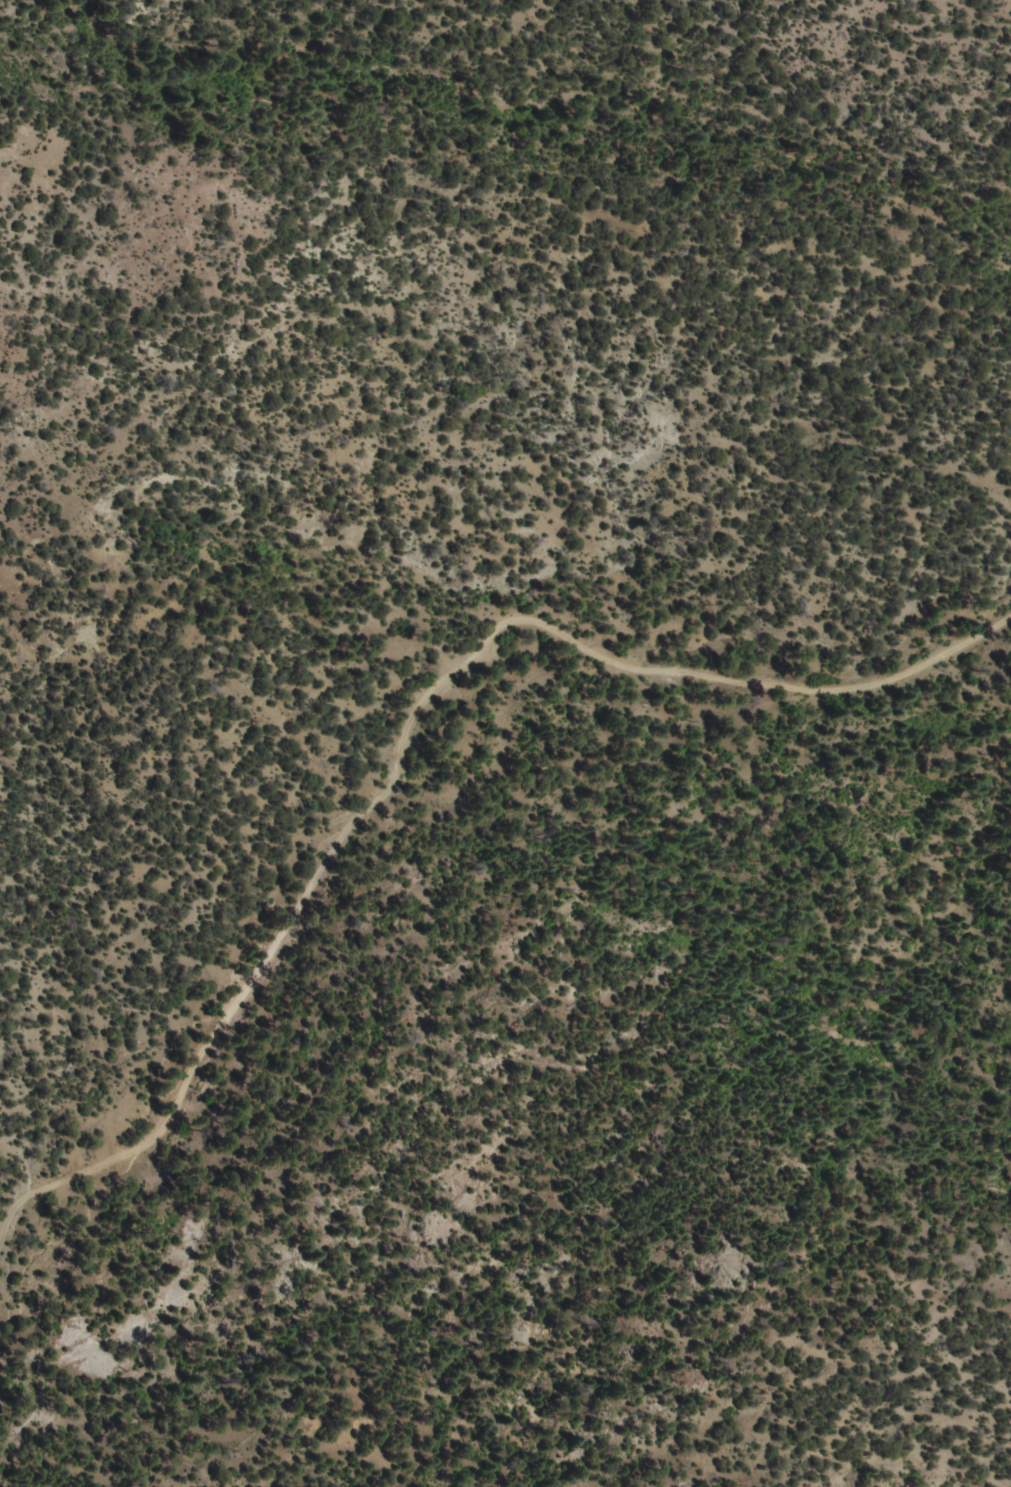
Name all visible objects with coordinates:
road: (31, 211)
road: (409, 402)
road: (406, 725)

